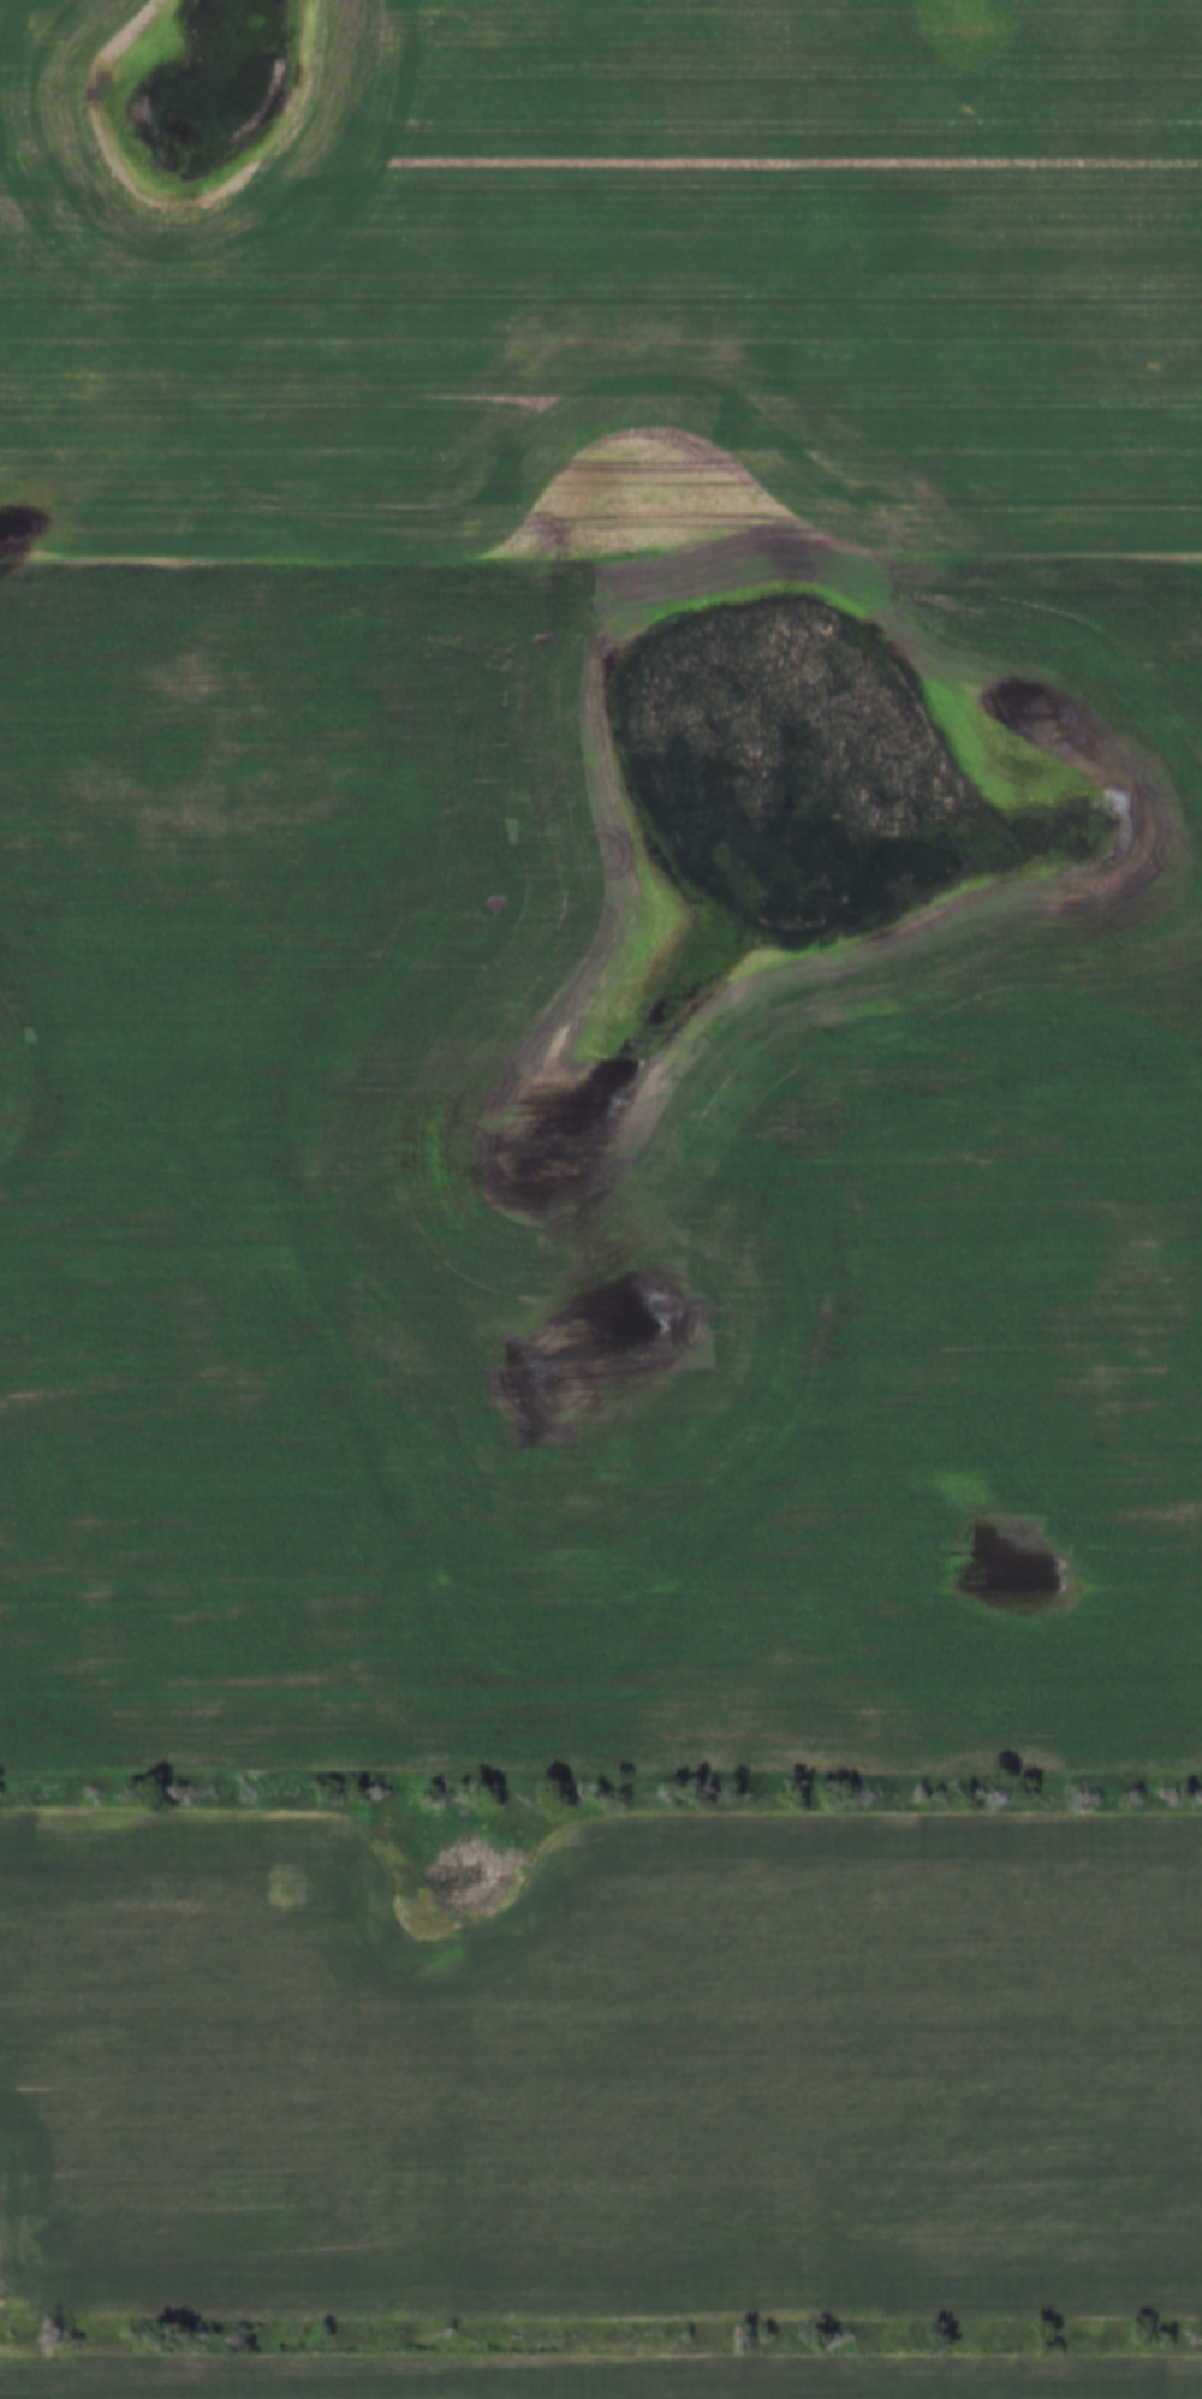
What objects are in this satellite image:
road: (601, 1765)

